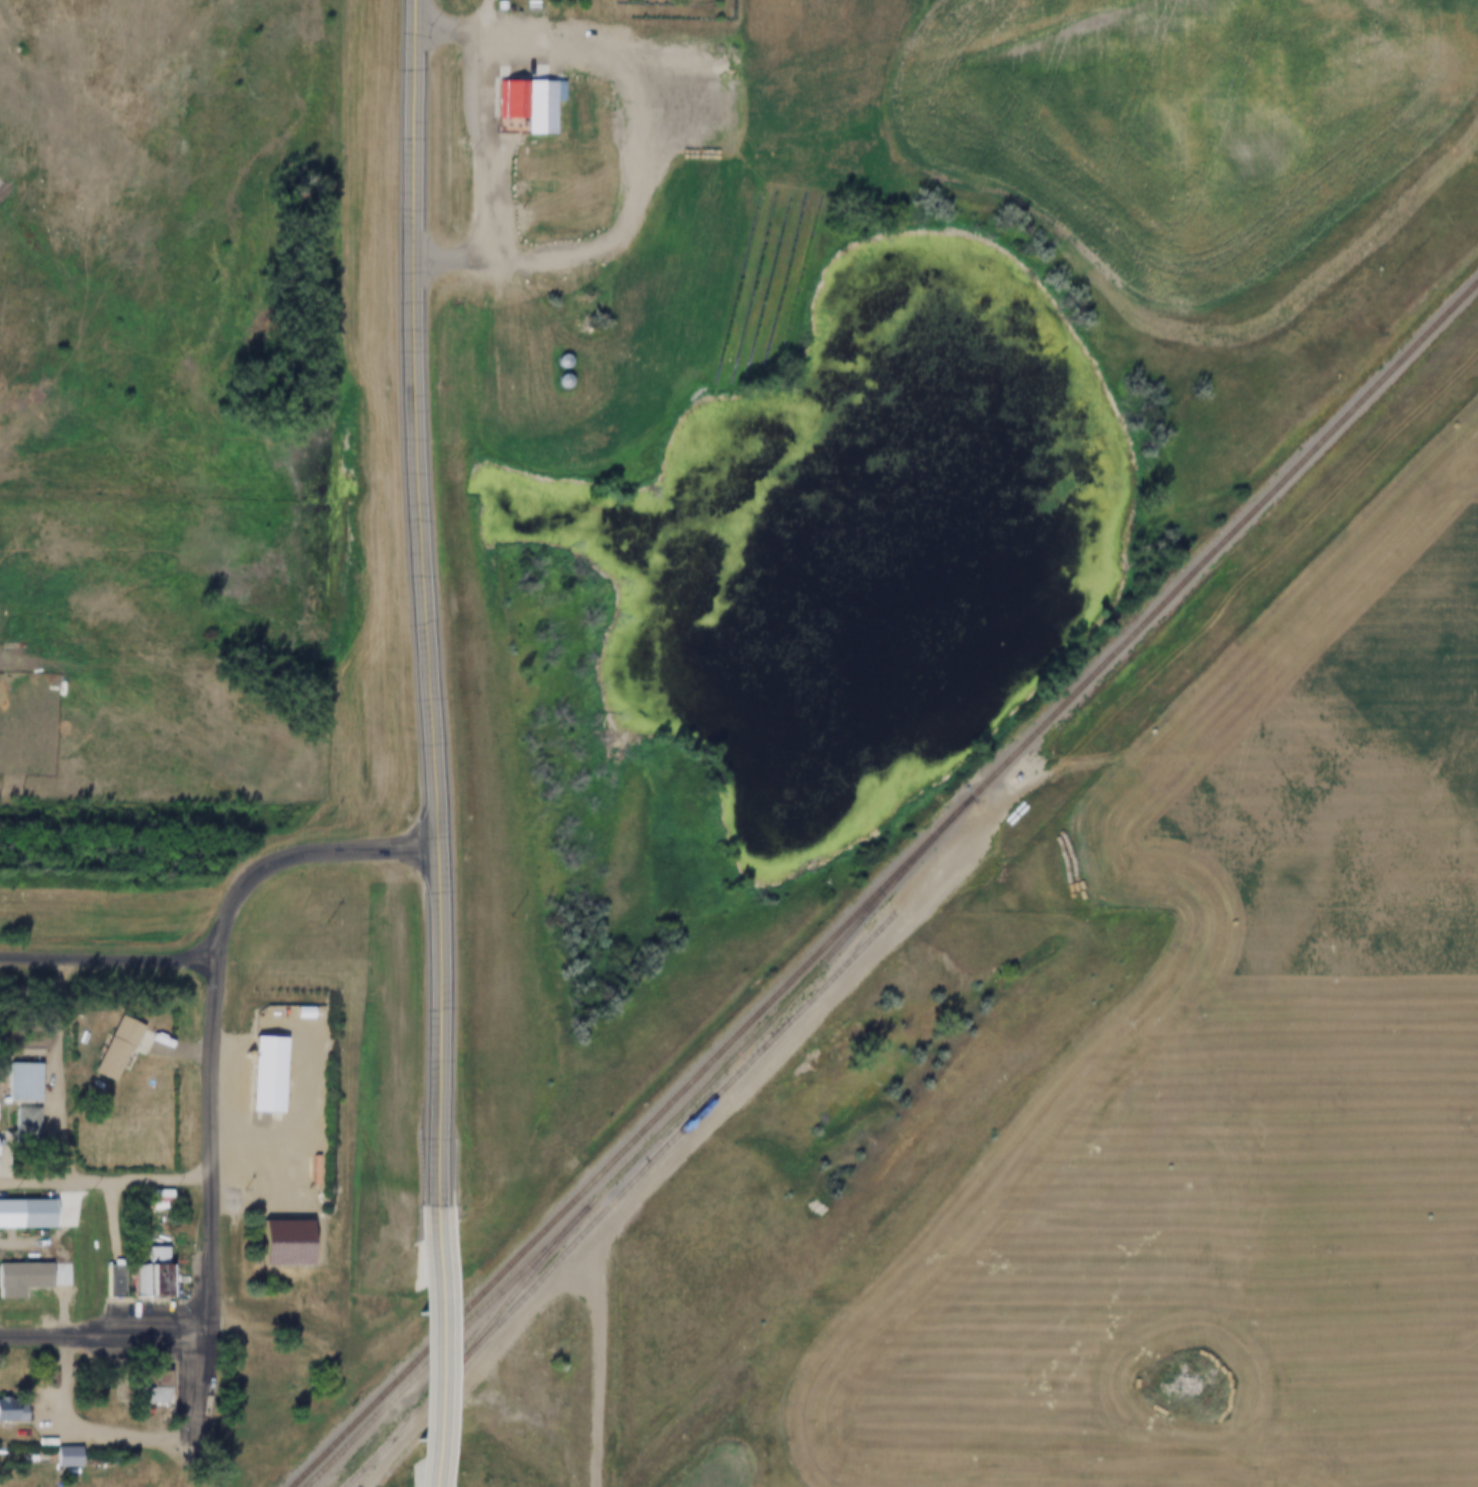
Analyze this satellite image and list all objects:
road: (417, 14)
building: (533, 104)
road: (415, 146)
road: (486, 146)
building: (563, 259)
road: (430, 734)
railway: (882, 882)
road: (224, 929)
building: (123, 1046)
building: (272, 1072)
building: (30, 1081)
building: (30, 1123)
road: (214, 1142)
building: (1, 1145)
road: (66, 1145)
railway: (642, 1150)
road: (658, 1174)
railway: (614, 1200)
building: (41, 1212)
building: (160, 1273)
building: (16, 1279)
railway: (507, 1301)
road: (106, 1331)
road: (443, 1346)
road: (594, 1367)
building: (157, 1393)
building: (13, 1410)

